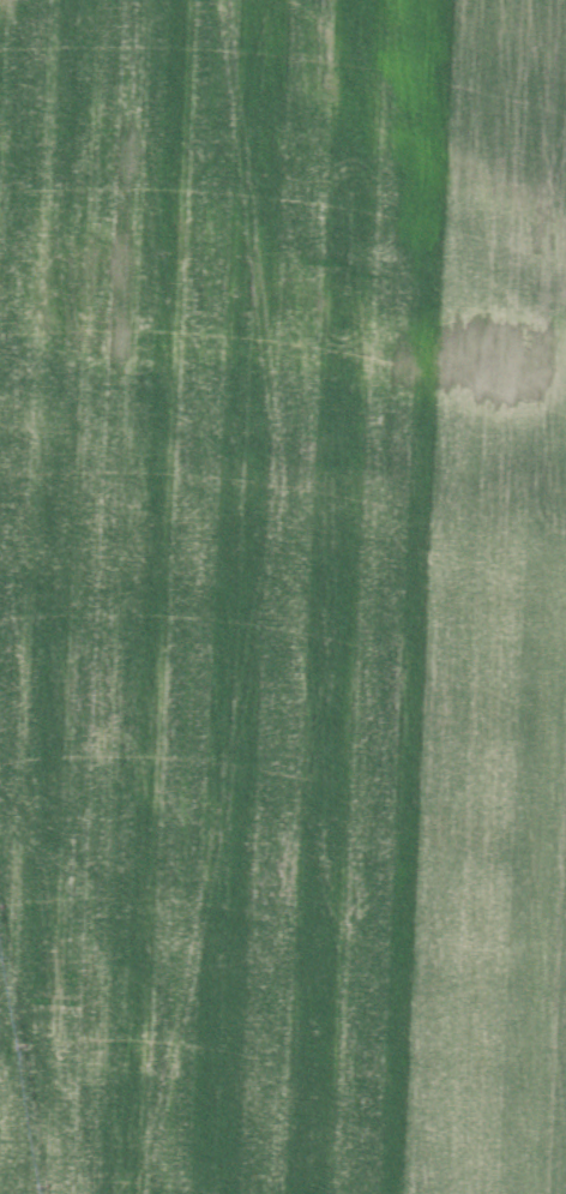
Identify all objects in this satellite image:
crop: (283, 596)

